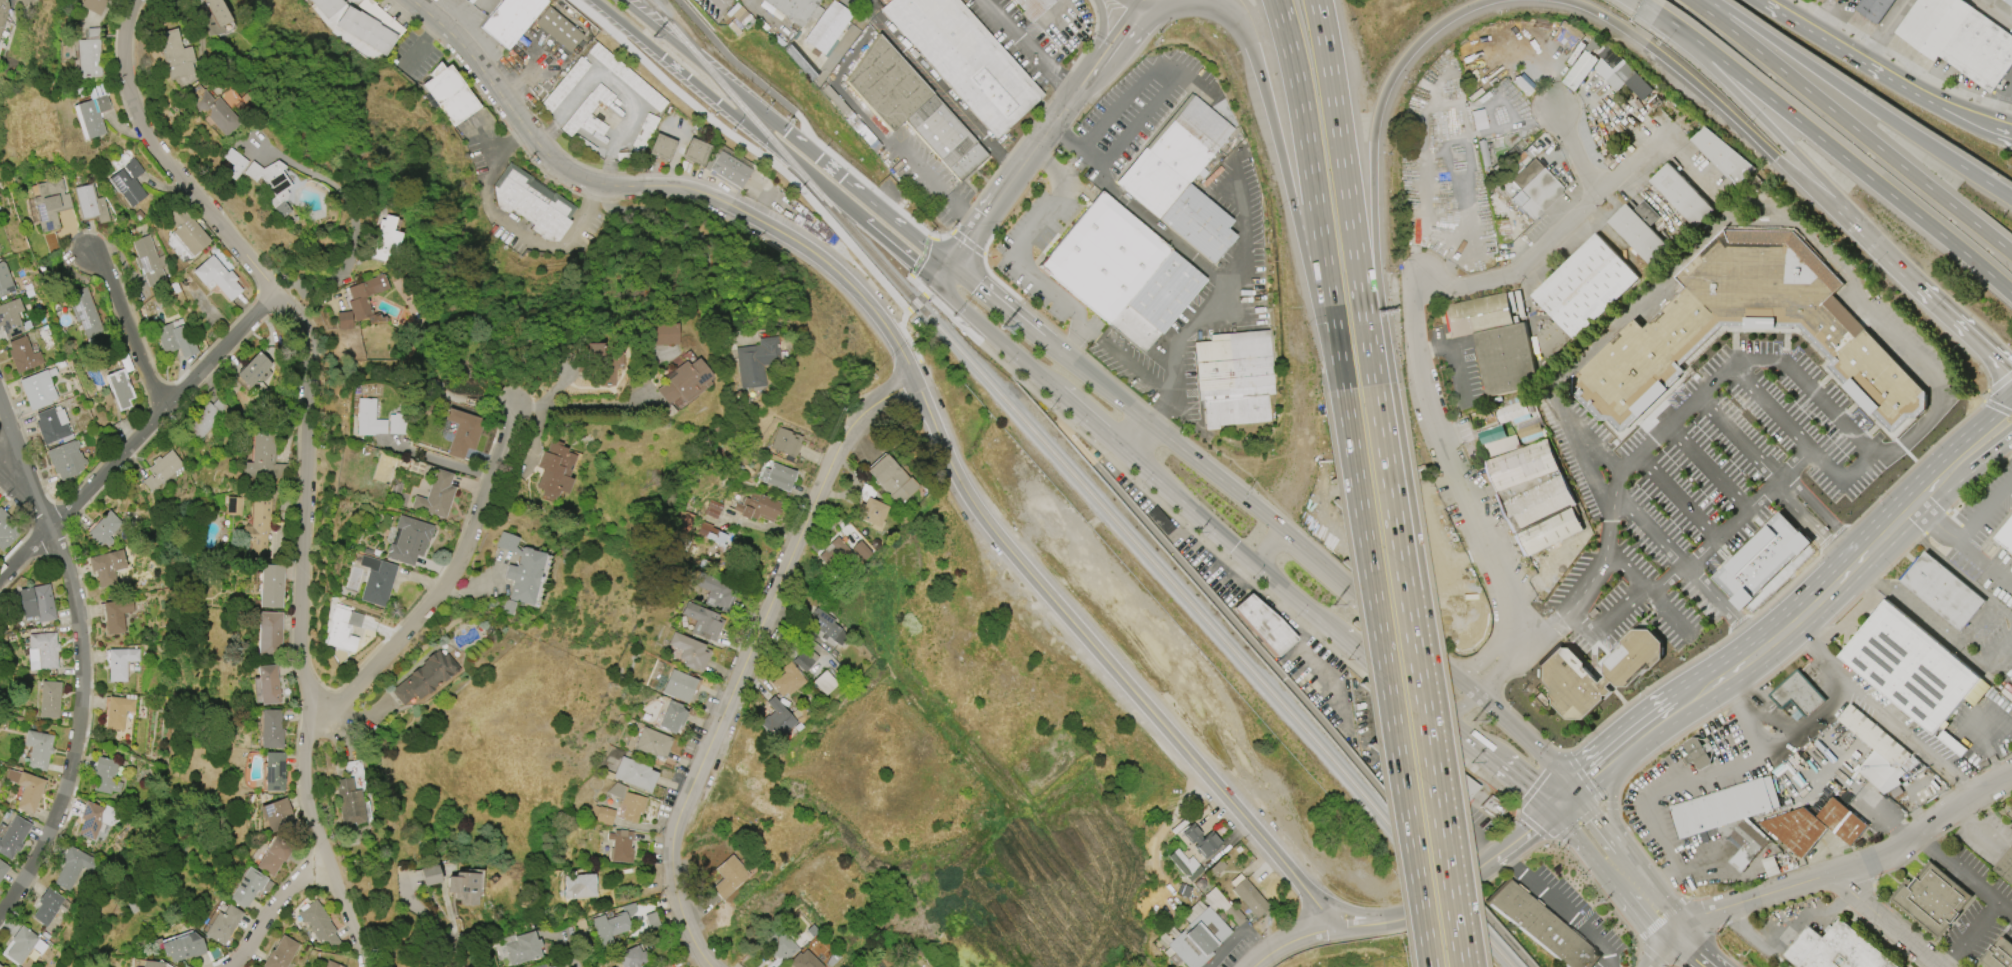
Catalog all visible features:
building: (2009, 1)
building: (25, 3)
road: (1127, 4)
road: (1133, 4)
road: (1137, 4)
road: (1147, 4)
road: (1843, 4)
building: (96, 5)
road: (1649, 5)
building: (325, 6)
building: (1032, 7)
traffic signals: (1135, 8)
building: (1875, 9)
road: (1997, 9)
building: (3, 12)
building: (216, 16)
road: (1667, 18)
building: (510, 19)
road: (1239, 19)
building: (814, 20)
road: (1104, 26)
road: (202, 30)
building: (558, 30)
building: (365, 31)
road: (1119, 31)
road: (1884, 31)
power tower: (652, 35)
railway: (678, 35)
building: (1960, 39)
road: (1027, 47)
building: (1594, 48)
building: (90, 55)
building: (174, 55)
building: (1611, 58)
building: (964, 59)
building: (800, 61)
road: (533, 69)
building: (1579, 71)
road: (1089, 74)
road: (1881, 74)
building: (626, 77)
building: (1629, 81)
road: (611, 84)
road: (1555, 84)
building: (564, 85)
road: (735, 91)
building: (448, 94)
road: (1861, 99)
road: (1161, 100)
building: (912, 108)
road: (729, 109)
road: (1724, 109)
building: (213, 110)
building: (588, 113)
building: (91, 116)
road: (1545, 118)
road: (1852, 125)
road: (1772, 131)
building: (639, 140)
building: (662, 148)
road: (1034, 149)
building: (695, 152)
road: (758, 154)
building: (1724, 156)
road: (1843, 157)
building: (233, 163)
road: (1372, 164)
building: (727, 168)
building: (1181, 179)
road: (937, 181)
building: (128, 183)
building: (272, 184)
building: (1533, 189)
road: (1347, 192)
road: (1313, 194)
building: (1682, 194)
building: (50, 203)
building: (532, 203)
building: (90, 204)
road: (985, 214)
traffic signals: (984, 217)
road: (1295, 218)
road: (356, 219)
road: (897, 225)
road: (1155, 228)
building: (187, 231)
building: (1641, 231)
road: (514, 232)
road: (1804, 236)
building: (386, 239)
road: (963, 245)
road: (898, 252)
building: (148, 261)
traffic signals: (913, 265)
traffic signals: (947, 266)
building: (1121, 272)
road: (940, 274)
building: (217, 277)
building: (5, 281)
traffic signals: (934, 283)
road: (1216, 285)
traffic signals: (974, 289)
building: (1581, 292)
building: (364, 296)
road: (992, 304)
road: (1940, 305)
road: (1069, 308)
power tower: (980, 310)
building: (84, 313)
road: (1531, 313)
building: (11, 318)
road: (1415, 325)
road: (133, 328)
building: (659, 334)
road: (996, 337)
building: (176, 338)
building: (1495, 340)
building: (1655, 349)
building: (22, 355)
road: (1451, 357)
building: (604, 360)
building: (754, 362)
road: (910, 368)
building: (254, 370)
building: (1233, 378)
building: (684, 382)
building: (38, 389)
building: (119, 389)
road: (1808, 396)
road: (313, 400)
road: (1070, 402)
road: (589, 405)
building: (1512, 411)
road: (1998, 415)
building: (207, 418)
building: (368, 419)
building: (397, 424)
building: (52, 425)
road: (1076, 429)
building: (1529, 430)
road: (1105, 432)
road: (2001, 432)
road: (138, 433)
building: (462, 433)
road: (1163, 435)
road: (1738, 440)
building: (786, 443)
building: (1499, 446)
road: (1975, 449)
railway: (1052, 453)
building: (264, 459)
building: (66, 460)
road: (1708, 467)
building: (554, 470)
building: (161, 471)
road: (1950, 471)
building: (777, 477)
building: (892, 480)
road: (1682, 491)
building: (1535, 495)
building: (436, 496)
road: (25, 502)
building: (234, 506)
building: (757, 507)
road: (1753, 507)
road: (1980, 508)
building: (713, 509)
building: (871, 509)
road: (1827, 517)
building: (1160, 521)
building: (683, 525)
building: (258, 528)
building: (104, 529)
road: (1813, 529)
building: (7, 530)
building: (2006, 534)
building: (710, 535)
building: (409, 540)
road: (1272, 548)
road: (1962, 549)
building: (860, 550)
building: (835, 556)
road: (1318, 559)
building: (1764, 560)
building: (106, 567)
building: (519, 573)
road: (1594, 579)
building: (376, 581)
road: (459, 583)
building: (271, 586)
road: (1288, 590)
building: (1942, 590)
building: (716, 593)
road: (1827, 594)
power tower: (1331, 601)
building: (36, 603)
road: (1910, 604)
road: (1629, 611)
building: (116, 615)
building: (703, 622)
road: (1985, 622)
building: (1264, 625)
building: (826, 626)
building: (340, 630)
building: (269, 635)
road: (1250, 638)
building: (42, 652)
building: (690, 652)
road: (81, 656)
road: (751, 661)
road: (1989, 661)
building: (802, 662)
building: (120, 663)
road: (1479, 665)
building: (1910, 667)
building: (1563, 675)
road: (1417, 676)
building: (424, 678)
road: (1385, 679)
building: (787, 681)
building: (824, 683)
building: (268, 685)
building: (679, 686)
road: (1466, 688)
road: (1486, 690)
building: (1798, 694)
building: (49, 700)
building: (118, 711)
road: (1882, 712)
building: (672, 717)
building: (775, 719)
power tower: (1474, 721)
road: (1995, 723)
road: (1661, 725)
building: (271, 729)
building: (1946, 738)
building: (652, 743)
road: (1775, 746)
building: (37, 749)
building: (1878, 751)
building: (1697, 754)
road: (1502, 769)
building: (274, 772)
building: (634, 774)
road: (1600, 775)
building: (105, 776)
building: (26, 790)
traffic signals: (1580, 792)
road: (1651, 799)
building: (348, 802)
building: (628, 802)
road: (1567, 802)
road: (1613, 802)
building: (2010, 812)
traffic signals: (1555, 813)
building: (277, 816)
building: (602, 816)
building: (1730, 816)
building: (96, 819)
road: (1600, 819)
building: (1816, 826)
building: (2011, 827)
road: (1528, 835)
building: (13, 837)
building: (1201, 841)
building: (620, 846)
building: (273, 856)
road: (1591, 856)
building: (1185, 865)
building: (2006, 865)
building: (73, 868)
building: (1216, 868)
road: (1629, 868)
building: (3, 870)
road: (1852, 870)
building: (430, 875)
road: (1966, 875)
building: (728, 877)
building: (579, 884)
building: (247, 888)
building: (463, 888)
road: (1464, 888)
railway: (1449, 892)
building: (1250, 898)
building: (1931, 899)
building: (49, 906)
road: (1318, 907)
road: (1349, 909)
road: (1562, 909)
road: (346, 910)
road: (277, 911)
road: (1427, 911)
road: (1893, 921)
building: (652, 922)
road: (435, 924)
building: (612, 924)
building: (223, 925)
building: (319, 925)
building: (1541, 927)
road: (1671, 929)
road: (1236, 931)
power tower: (1718, 932)
road: (1970, 933)
building: (1198, 938)
road: (1505, 938)
road: (1290, 941)
building: (180, 944)
building: (23, 945)
building: (779, 946)
building: (523, 949)
building: (1835, 949)
road: (570, 950)
road: (1661, 950)
building: (281, 953)
building: (2000, 954)
building: (632, 957)
railway: (1507, 959)
building: (804, 961)
building: (151, 964)
building: (330, 964)
building: (0, 966)
building: (542, 966)
road: (718, 966)

